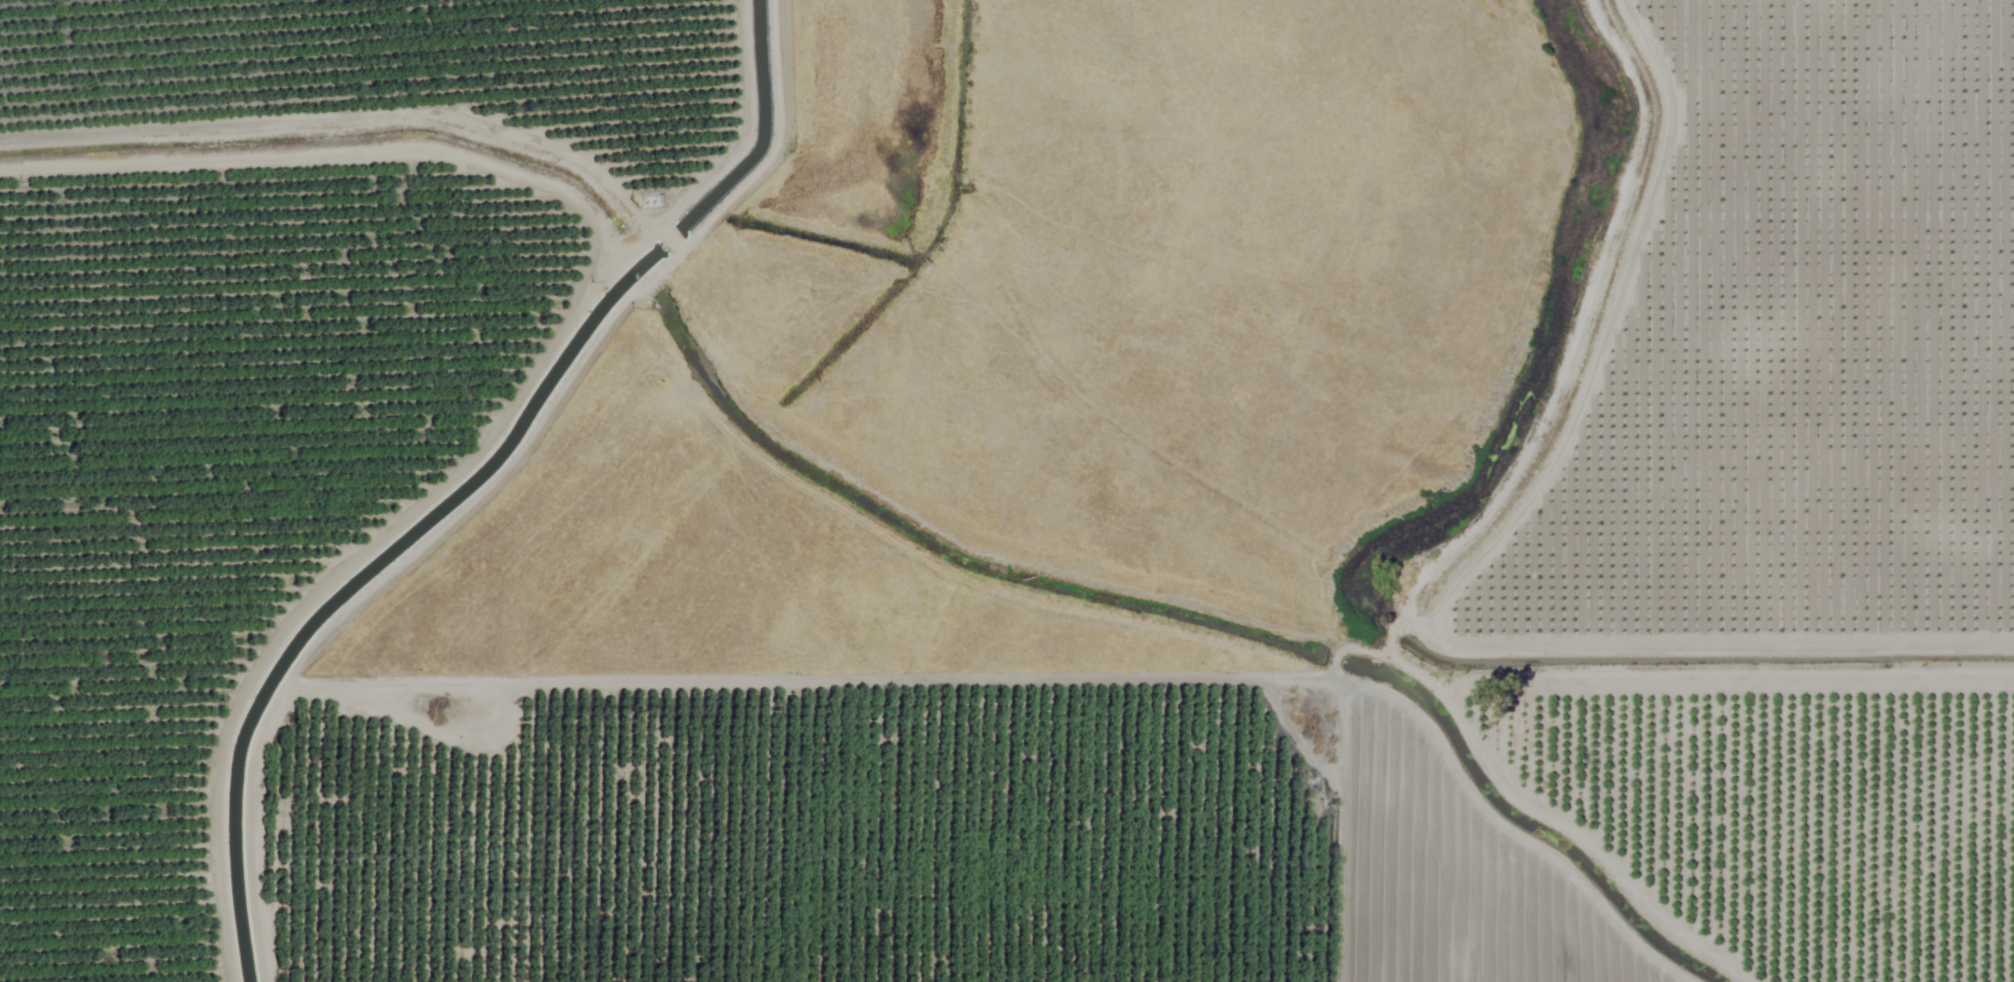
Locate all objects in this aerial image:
road: (753, 313)
crop: (238, 459)
road: (1569, 538)
road: (1789, 689)

